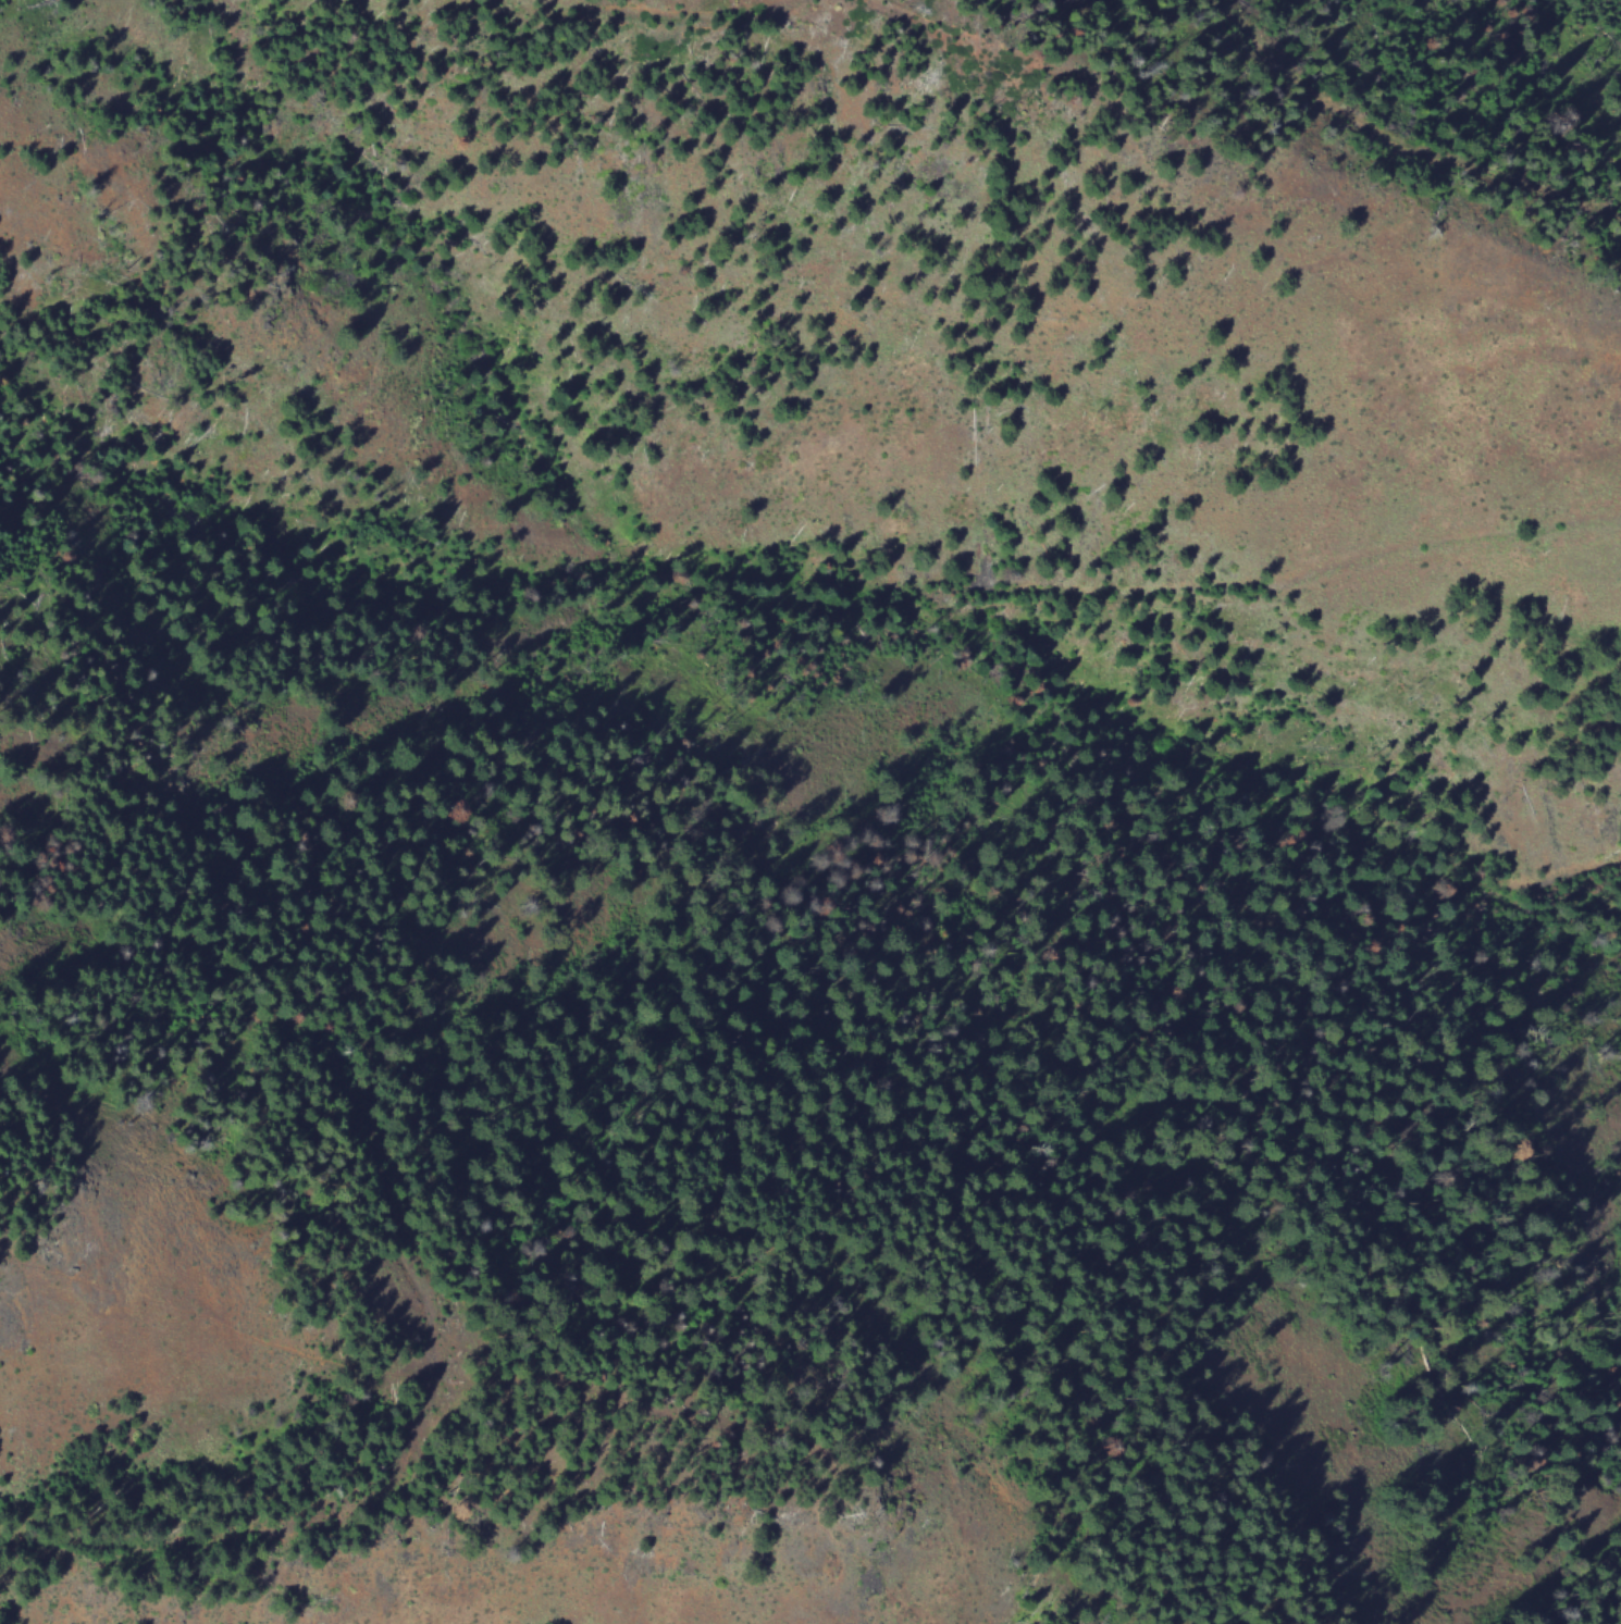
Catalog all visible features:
road: (271, 1557)

